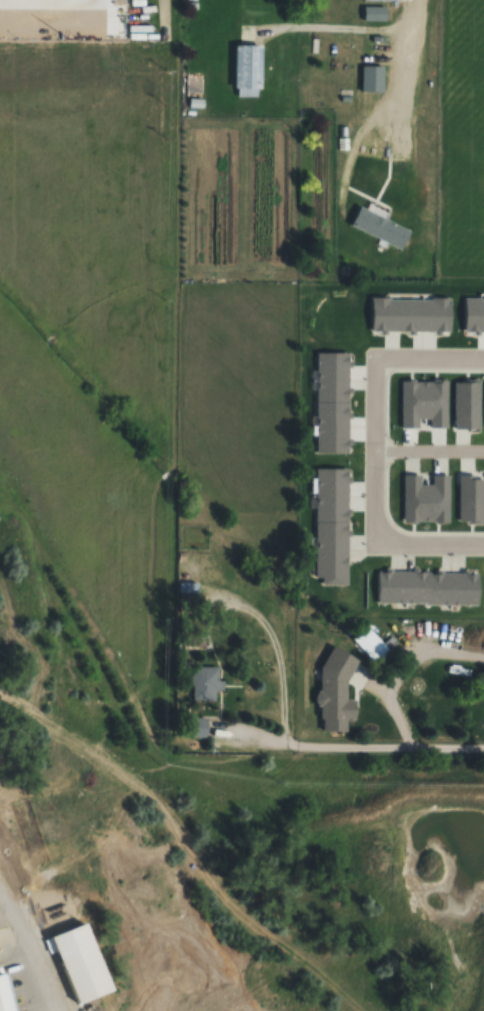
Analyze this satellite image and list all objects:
building: (382, 0)
building: (374, 12)
road: (404, 57)
building: (247, 68)
building: (371, 77)
park: (462, 138)
building: (385, 435)
road: (374, 450)
road: (429, 451)
building: (188, 593)
building: (344, 657)
building: (205, 685)
road: (347, 746)
road: (28, 953)
building: (77, 963)
building: (5, 994)
building: (18, 1007)

